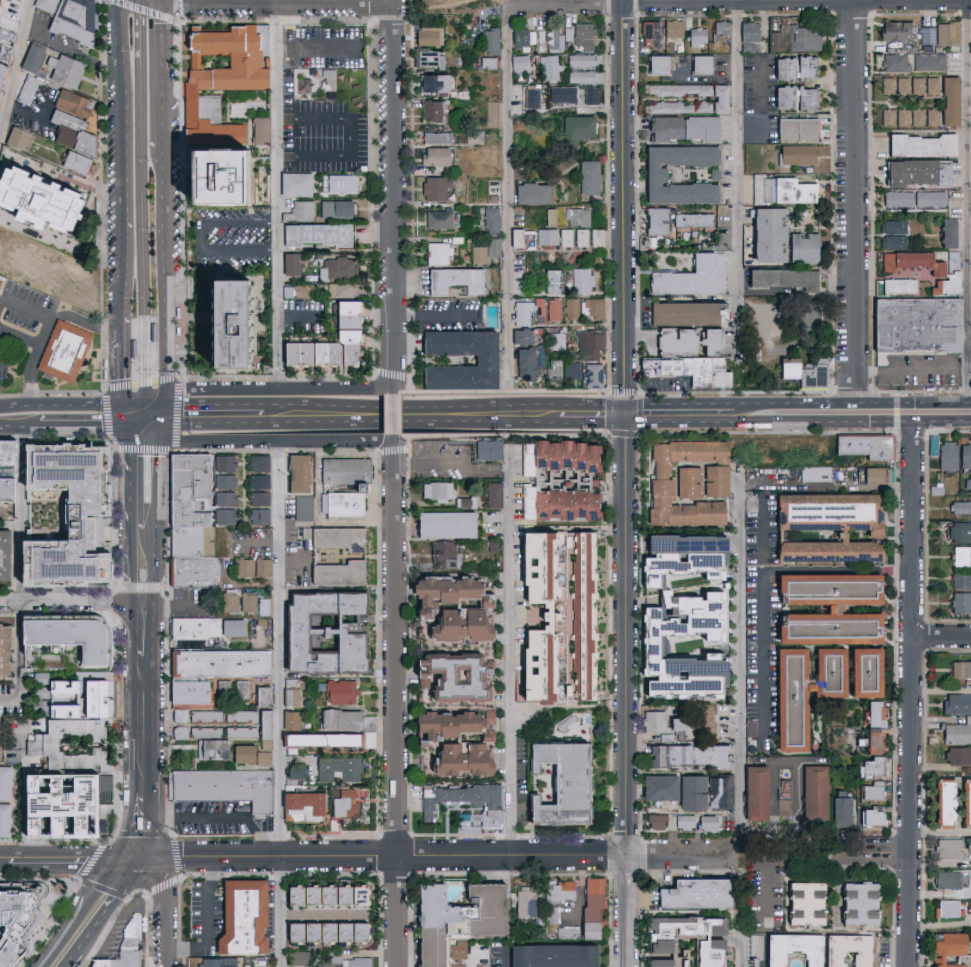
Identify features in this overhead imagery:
road: (521, 0)
road: (736, 0)
road: (278, 1)
road: (315, 2)
building: (42, 4)
road: (156, 7)
road: (447, 9)
road: (143, 10)
building: (72, 19)
road: (125, 24)
building: (719, 26)
building: (672, 28)
building: (891, 30)
building: (747, 31)
building: (567, 33)
building: (648, 33)
building: (945, 33)
building: (583, 35)
building: (925, 35)
building: (425, 36)
building: (695, 36)
building: (519, 37)
building: (804, 38)
building: (489, 39)
building: (773, 39)
building: (550, 40)
building: (970, 40)
building: (5, 42)
building: (745, 46)
road: (75, 51)
building: (28, 57)
building: (427, 58)
building: (580, 60)
building: (928, 61)
building: (487, 62)
building: (519, 62)
building: (895, 62)
building: (655, 64)
building: (697, 64)
building: (804, 66)
building: (549, 67)
building: (1, 68)
building: (780, 68)
building: (61, 70)
road: (125, 71)
road: (16, 75)
building: (585, 76)
building: (217, 77)
building: (970, 77)
road: (157, 82)
building: (430, 82)
building: (302, 85)
building: (908, 85)
building: (32, 92)
building: (562, 94)
building: (590, 96)
building: (780, 96)
building: (531, 98)
building: (803, 98)
building: (516, 99)
building: (948, 100)
building: (234, 108)
building: (430, 109)
building: (76, 113)
building: (491, 113)
building: (901, 116)
building: (916, 116)
building: (931, 116)
building: (886, 117)
building: (61, 125)
building: (578, 127)
building: (681, 127)
building: (794, 128)
building: (257, 130)
road: (125, 137)
building: (434, 137)
building: (473, 137)
building: (14, 138)
parking lot: (330, 139)
building: (70, 142)
building: (919, 145)
building: (90, 151)
building: (795, 154)
building: (430, 156)
building: (914, 172)
building: (651, 173)
building: (588, 176)
road: (735, 177)
building: (220, 180)
building: (339, 182)
building: (291, 183)
road: (393, 185)
building: (433, 187)
building: (785, 190)
road: (140, 191)
building: (529, 193)
road: (505, 195)
road: (278, 196)
building: (911, 198)
road: (855, 201)
road: (965, 201)
building: (33, 203)
building: (969, 203)
building: (335, 208)
building: (300, 209)
building: (549, 217)
building: (578, 217)
building: (436, 218)
road: (103, 219)
building: (692, 219)
building: (491, 220)
building: (655, 220)
road: (182, 224)
building: (890, 226)
building: (946, 233)
building: (313, 234)
building: (764, 234)
building: (547, 236)
building: (515, 237)
building: (565, 237)
building: (581, 237)
building: (597, 237)
road: (204, 238)
parking lot: (231, 239)
building: (890, 241)
building: (494, 246)
building: (799, 247)
road: (127, 249)
building: (434, 253)
building: (32, 254)
building: (478, 254)
building: (8, 258)
building: (910, 262)
building: (288, 263)
building: (335, 267)
building: (692, 276)
road: (157, 277)
building: (783, 278)
building: (453, 279)
building: (581, 280)
building: (550, 282)
building: (36, 283)
building: (947, 283)
building: (897, 285)
building: (1, 286)
building: (339, 289)
building: (781, 289)
building: (302, 290)
building: (77, 301)
building: (538, 306)
building: (595, 307)
building: (570, 308)
building: (553, 309)
building: (340, 313)
building: (520, 313)
building: (681, 313)
road: (60, 317)
building: (211, 324)
building: (920, 328)
road: (128, 331)
building: (153, 332)
road: (20, 334)
building: (519, 336)
road: (969, 338)
building: (674, 340)
building: (555, 341)
building: (707, 341)
building: (589, 344)
building: (133, 348)
building: (320, 350)
building: (969, 352)
road: (34, 358)
building: (67, 358)
building: (479, 359)
building: (524, 365)
building: (555, 369)
building: (572, 369)
road: (912, 371)
building: (802, 373)
road: (129, 375)
building: (593, 375)
building: (695, 378)
building: (820, 380)
road: (394, 381)
road: (141, 383)
traffic signals: (158, 388)
road: (235, 391)
road: (354, 391)
road: (136, 394)
road: (151, 394)
road: (928, 403)
road: (962, 403)
road: (970, 403)
road: (868, 404)
road: (64, 405)
traffic signals: (129, 405)
road: (143, 405)
traffic signals: (158, 405)
road: (781, 405)
building: (406, 408)
road: (167, 409)
road: (394, 412)
road: (219, 413)
road: (413, 413)
road: (595, 413)
traffic signals: (628, 413)
road: (679, 413)
road: (129, 416)
road: (159, 416)
road: (168, 420)
road: (970, 420)
road: (791, 421)
road: (887, 421)
road: (944, 421)
road: (21, 427)
road: (85, 427)
traffic signals: (130, 427)
road: (145, 427)
traffic signals: (160, 427)
road: (130, 438)
road: (159, 438)
road: (232, 439)
road: (114, 442)
road: (352, 443)
road: (395, 447)
road: (145, 449)
building: (0, 450)
building: (486, 450)
building: (697, 450)
building: (873, 452)
building: (942, 453)
building: (563, 455)
building: (965, 455)
building: (658, 460)
road: (434, 461)
building: (257, 462)
building: (223, 463)
road: (145, 466)
road: (491, 469)
building: (342, 470)
building: (295, 473)
building: (814, 473)
building: (873, 475)
building: (223, 481)
building: (258, 481)
building: (714, 481)
building: (688, 482)
road: (627, 483)
building: (804, 483)
building: (883, 483)
road: (129, 484)
building: (967, 484)
building: (935, 489)
building: (432, 490)
building: (191, 491)
building: (491, 494)
road: (155, 498)
building: (223, 498)
building: (257, 498)
building: (100, 499)
building: (65, 500)
building: (340, 504)
building: (560, 504)
building: (301, 507)
building: (960, 507)
building: (677, 508)
building: (827, 509)
road: (21, 514)
building: (258, 515)
building: (223, 516)
building: (440, 524)
building: (958, 532)
building: (333, 538)
building: (193, 542)
building: (666, 544)
building: (490, 545)
building: (825, 550)
building: (443, 554)
building: (959, 555)
road: (132, 563)
building: (541, 565)
building: (673, 565)
building: (584, 566)
building: (253, 567)
building: (196, 572)
building: (334, 572)
road: (152, 575)
road: (762, 576)
building: (960, 580)
building: (824, 586)
building: (436, 593)
road: (72, 601)
building: (245, 602)
building: (960, 602)
building: (261, 606)
building: (449, 626)
road: (145, 628)
building: (195, 628)
building: (825, 628)
building: (316, 632)
road: (943, 635)
building: (63, 636)
building: (644, 649)
building: (2, 650)
road: (508, 653)
building: (71, 657)
road: (19, 658)
road: (736, 664)
building: (226, 667)
building: (538, 667)
building: (960, 669)
building: (826, 672)
building: (862, 672)
building: (447, 675)
building: (230, 689)
building: (339, 691)
road: (914, 693)
building: (87, 694)
building: (196, 696)
building: (258, 696)
building: (290, 697)
building: (787, 700)
road: (280, 703)
building: (956, 704)
road: (396, 713)
building: (873, 713)
building: (204, 715)
building: (337, 719)
building: (250, 720)
building: (289, 720)
building: (655, 722)
road: (144, 724)
building: (441, 726)
building: (240, 731)
building: (956, 731)
building: (860, 738)
building: (316, 739)
building: (369, 739)
building: (203, 741)
building: (873, 744)
building: (241, 754)
building: (666, 755)
building: (708, 755)
building: (957, 755)
building: (83, 756)
building: (262, 757)
building: (454, 760)
road: (775, 764)
building: (870, 765)
building: (970, 768)
building: (337, 769)
building: (294, 770)
building: (554, 784)
building: (233, 786)
building: (784, 787)
building: (661, 788)
building: (871, 791)
building: (814, 792)
building: (688, 793)
building: (718, 793)
building: (752, 793)
building: (93, 800)
building: (967, 801)
building: (941, 802)
building: (300, 804)
building: (343, 804)
building: (783, 807)
building: (483, 808)
building: (840, 808)
building: (65, 810)
building: (868, 816)
road: (215, 817)
parking lot: (218, 819)
building: (656, 821)
building: (686, 822)
building: (708, 823)
road: (141, 825)
building: (967, 843)
building: (946, 849)
road: (874, 852)
road: (438, 855)
road: (767, 857)
road: (69, 859)
traffic signals: (139, 860)
building: (945, 880)
building: (560, 891)
building: (691, 894)
building: (352, 895)
building: (287, 896)
building: (303, 896)
building: (320, 896)
building: (335, 896)
building: (592, 899)
building: (525, 902)
building: (802, 903)
building: (856, 904)
road: (86, 908)
road: (166, 908)
building: (946, 909)
road: (102, 914)
building: (451, 914)
building: (552, 914)
building: (253, 919)
building: (20, 921)
road: (209, 922)
building: (679, 926)
building: (587, 930)
building: (288, 932)
building: (304, 932)
building: (320, 932)
building: (336, 932)
building: (352, 932)
building: (130, 947)
building: (655, 947)
building: (943, 948)
building: (456, 950)
building: (789, 950)
building: (845, 951)
road: (763, 952)
building: (970, 952)
building: (702, 953)
road: (741, 953)
building: (334, 955)
building: (550, 956)
building: (297, 958)
road: (504, 958)
building: (210, 962)
building: (357, 962)
building: (652, 963)
building: (258, 965)
building: (323, 965)
building: (458, 965)
building: (478, 966)

